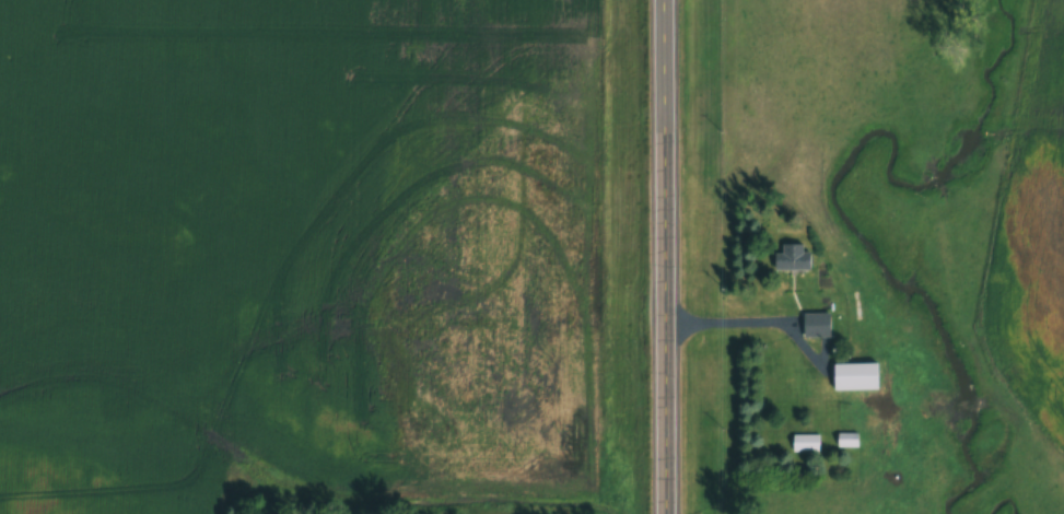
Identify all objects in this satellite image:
road: (669, 256)
building: (787, 256)
road: (732, 317)
building: (815, 325)
building: (853, 375)
building: (846, 439)
building: (804, 442)

